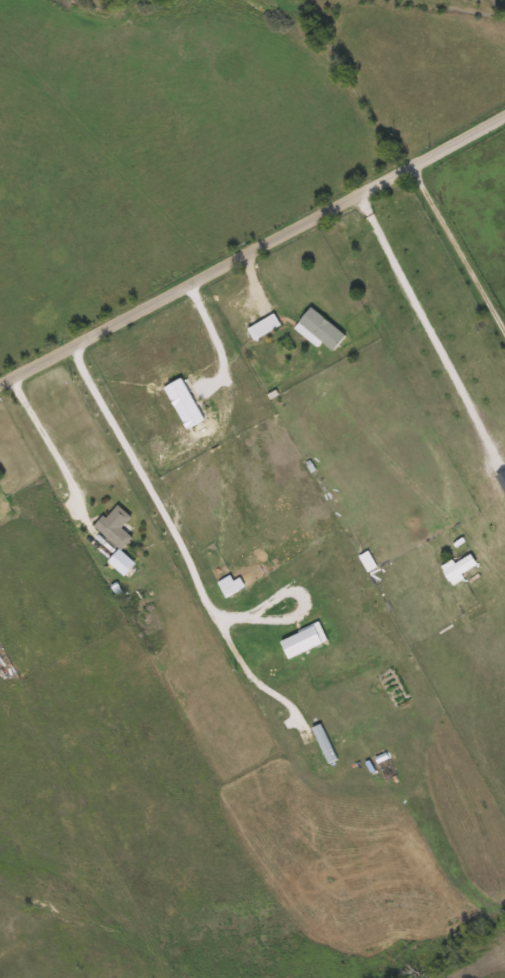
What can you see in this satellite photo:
road: (461, 243)
road: (252, 256)
building: (267, 326)
road: (427, 326)
building: (323, 329)
road: (59, 468)
building: (117, 528)
road: (179, 543)

